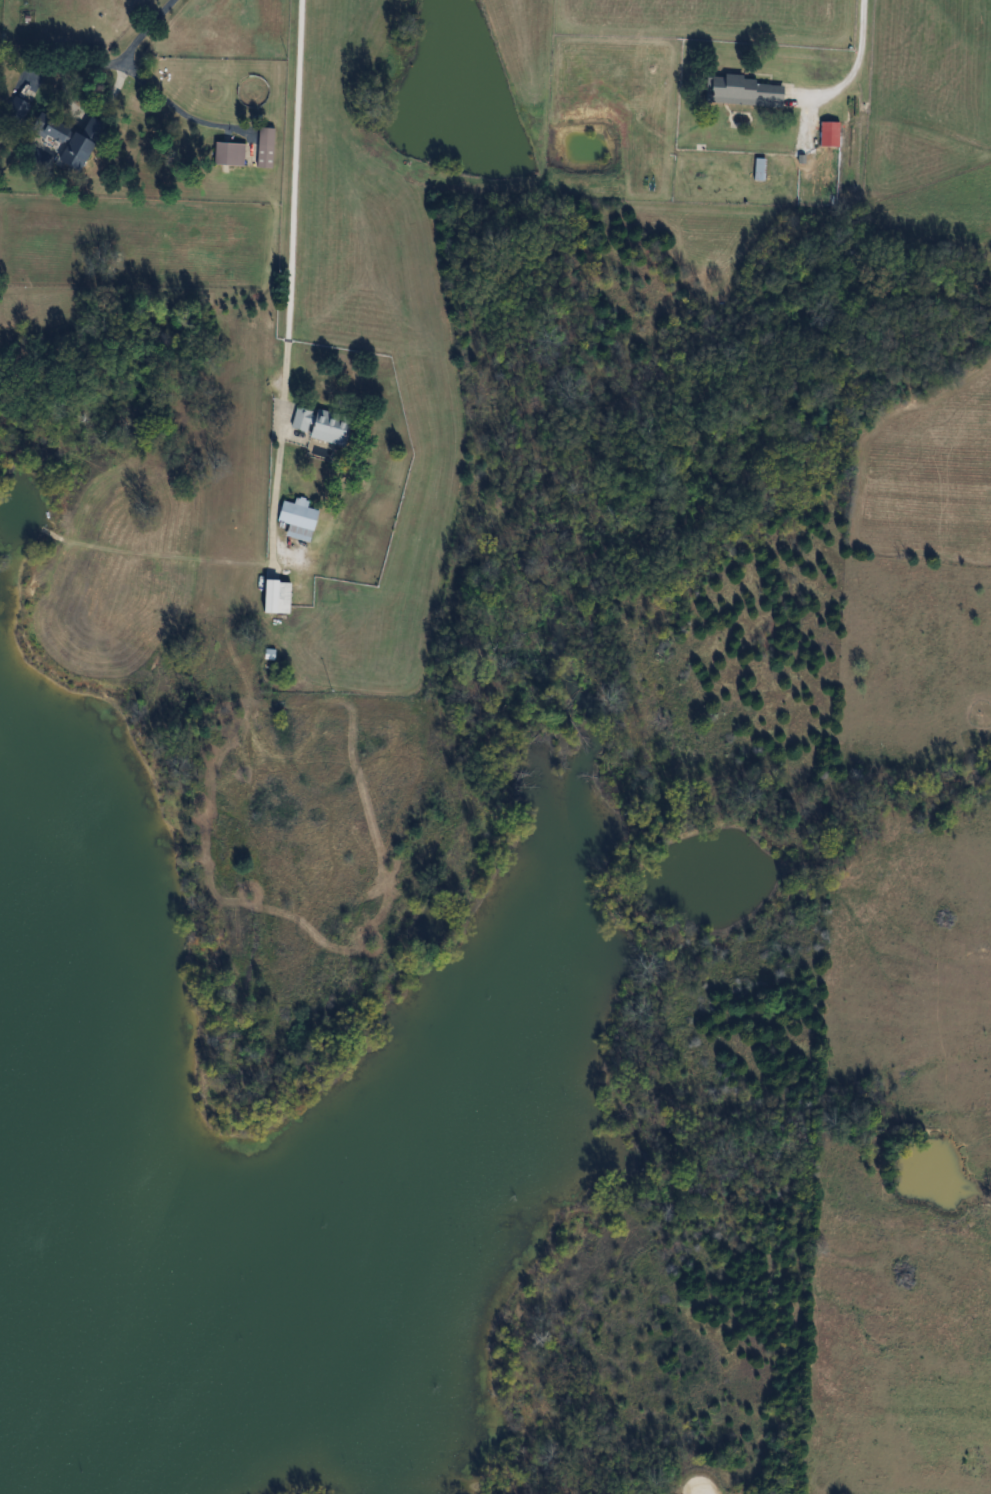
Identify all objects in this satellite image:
road: (857, 61)
road: (139, 79)
building: (743, 91)
building: (16, 110)
building: (828, 134)
building: (70, 140)
building: (264, 147)
building: (228, 153)
building: (758, 168)
road: (290, 282)
building: (318, 424)
building: (296, 519)
building: (275, 597)
road: (700, 1493)

